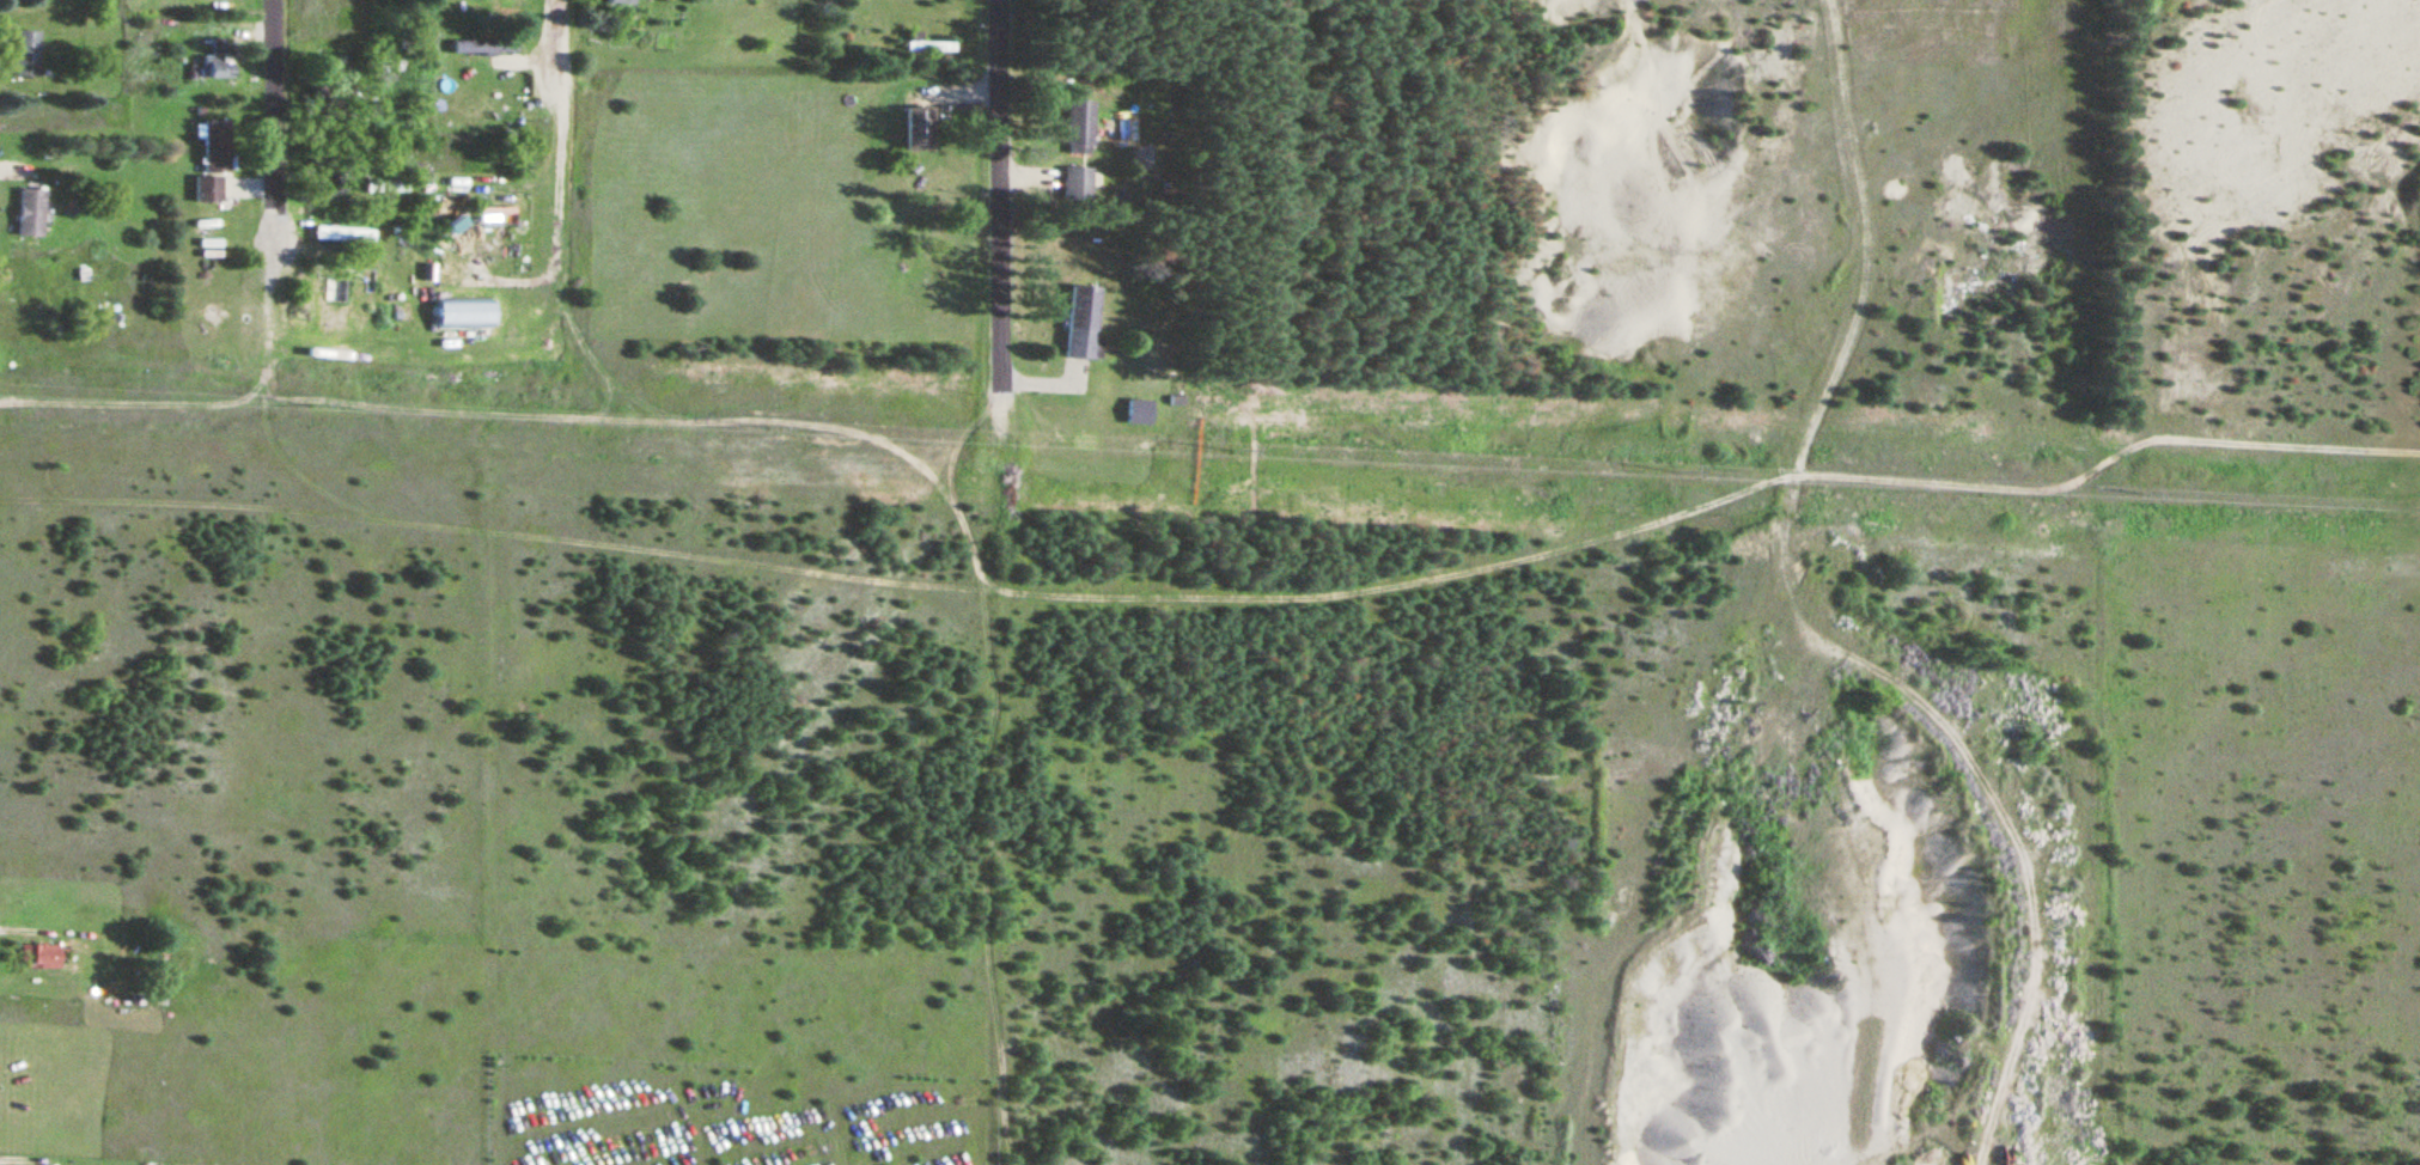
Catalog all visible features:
building: (616, 1)
building: (505, 5)
road: (548, 39)
building: (481, 45)
building: (927, 47)
building: (24, 53)
building: (215, 60)
road: (269, 99)
building: (912, 128)
building: (1078, 128)
building: (214, 146)
building: (1074, 184)
road: (993, 185)
building: (206, 189)
building: (29, 213)
road: (270, 224)
building: (342, 234)
building: (345, 275)
building: (1081, 323)
building: (1135, 413)
road: (2286, 441)
road: (1805, 624)
quarry: (1830, 876)
road: (18, 931)
building: (37, 957)
road: (12, 1159)

